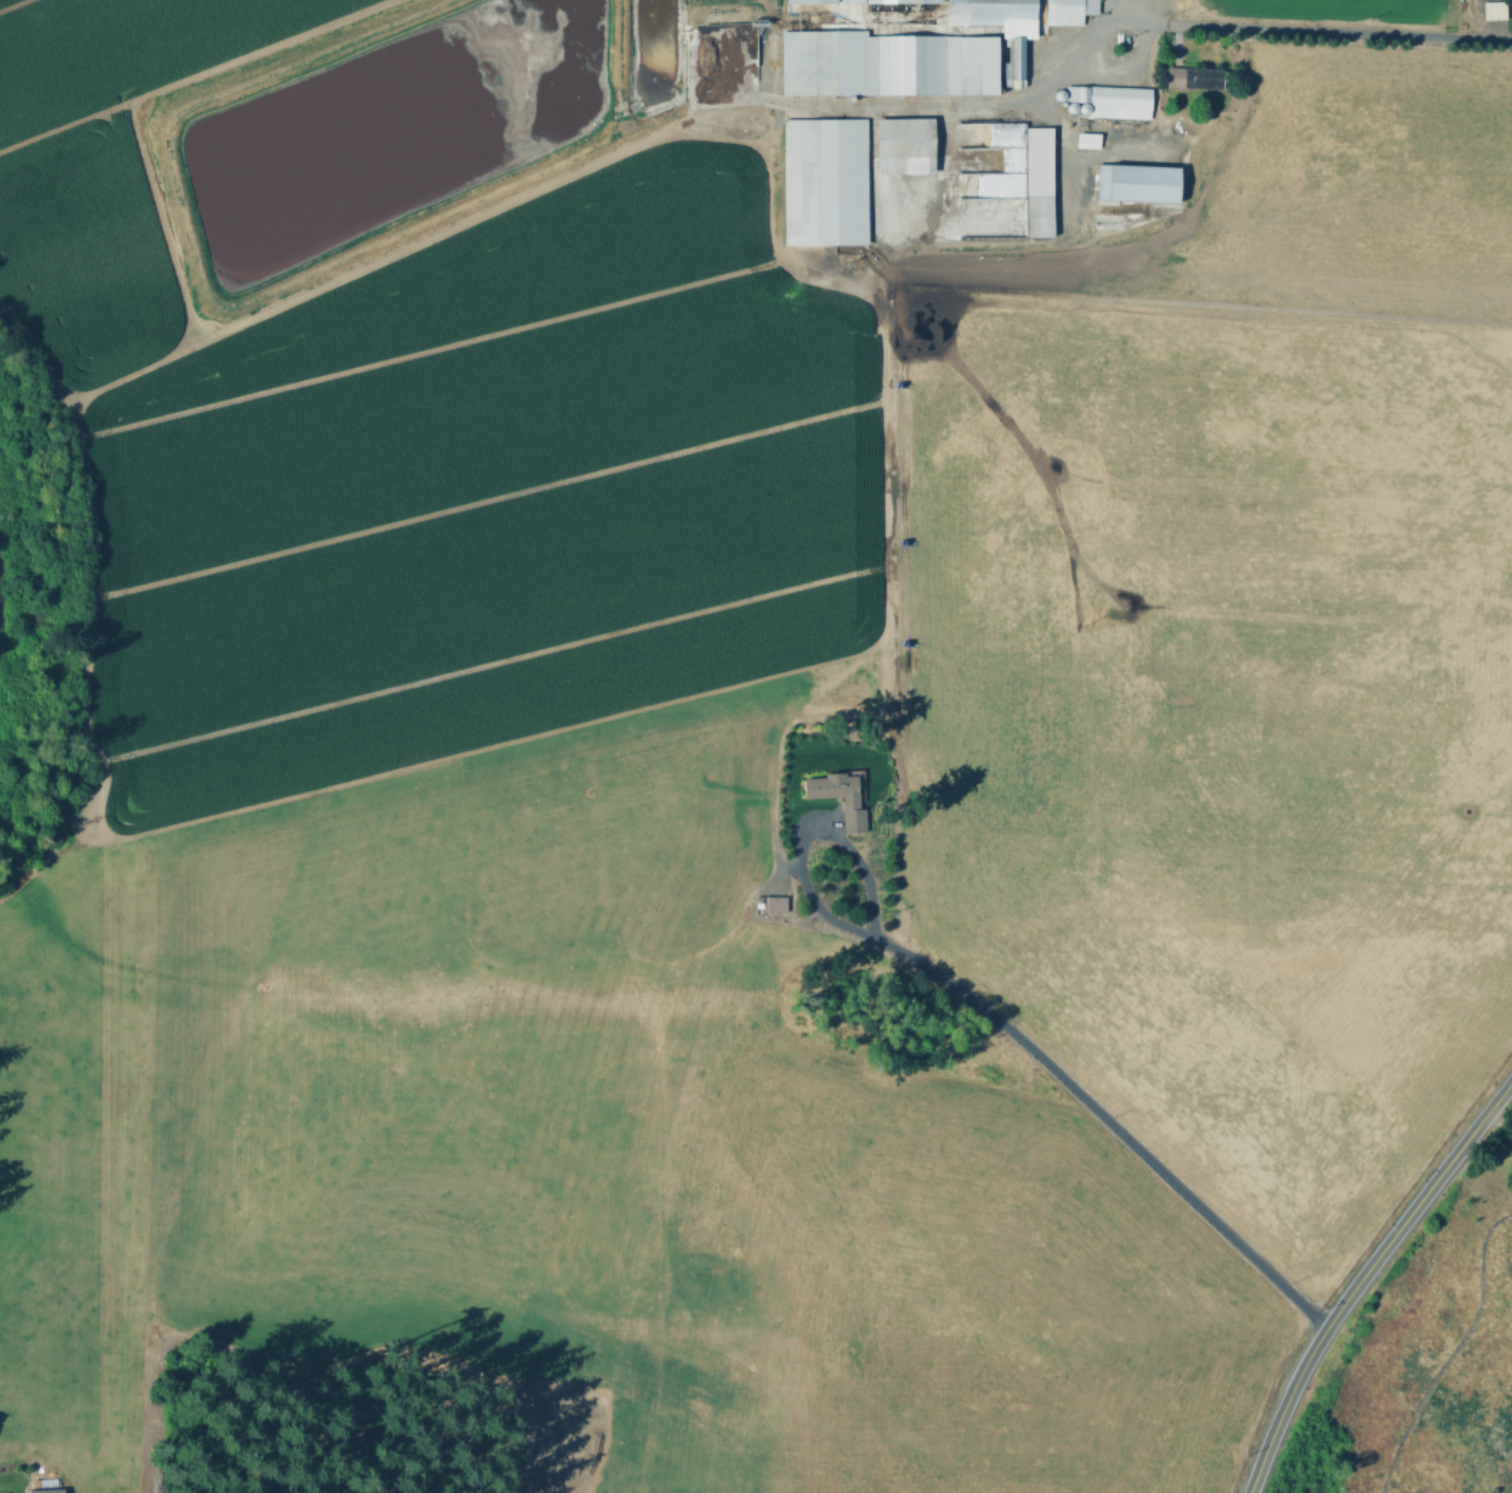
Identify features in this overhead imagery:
building: (812, 0)
building: (903, 0)
crop: (1330, 5)
building: (1492, 9)
building: (1069, 11)
road: (1107, 11)
building: (995, 14)
road: (1310, 29)
building: (1018, 58)
building: (885, 63)
building: (1203, 77)
building: (1059, 97)
silo: (1059, 97)
building: (1113, 100)
building: (1064, 106)
silo: (1064, 106)
road: (907, 107)
building: (1072, 110)
silo: (1072, 110)
building: (1084, 110)
silo: (1084, 110)
building: (1088, 140)
building: (904, 145)
road: (1065, 163)
road: (941, 172)
building: (825, 181)
building: (1039, 181)
building: (1138, 183)
road: (202, 317)
crop: (421, 448)
road: (882, 470)
crop: (1237, 633)
building: (850, 803)
building: (776, 903)
road: (997, 1024)
road: (1361, 1275)
park: (1428, 1365)
building: (43, 1490)
building: (3, 1492)

